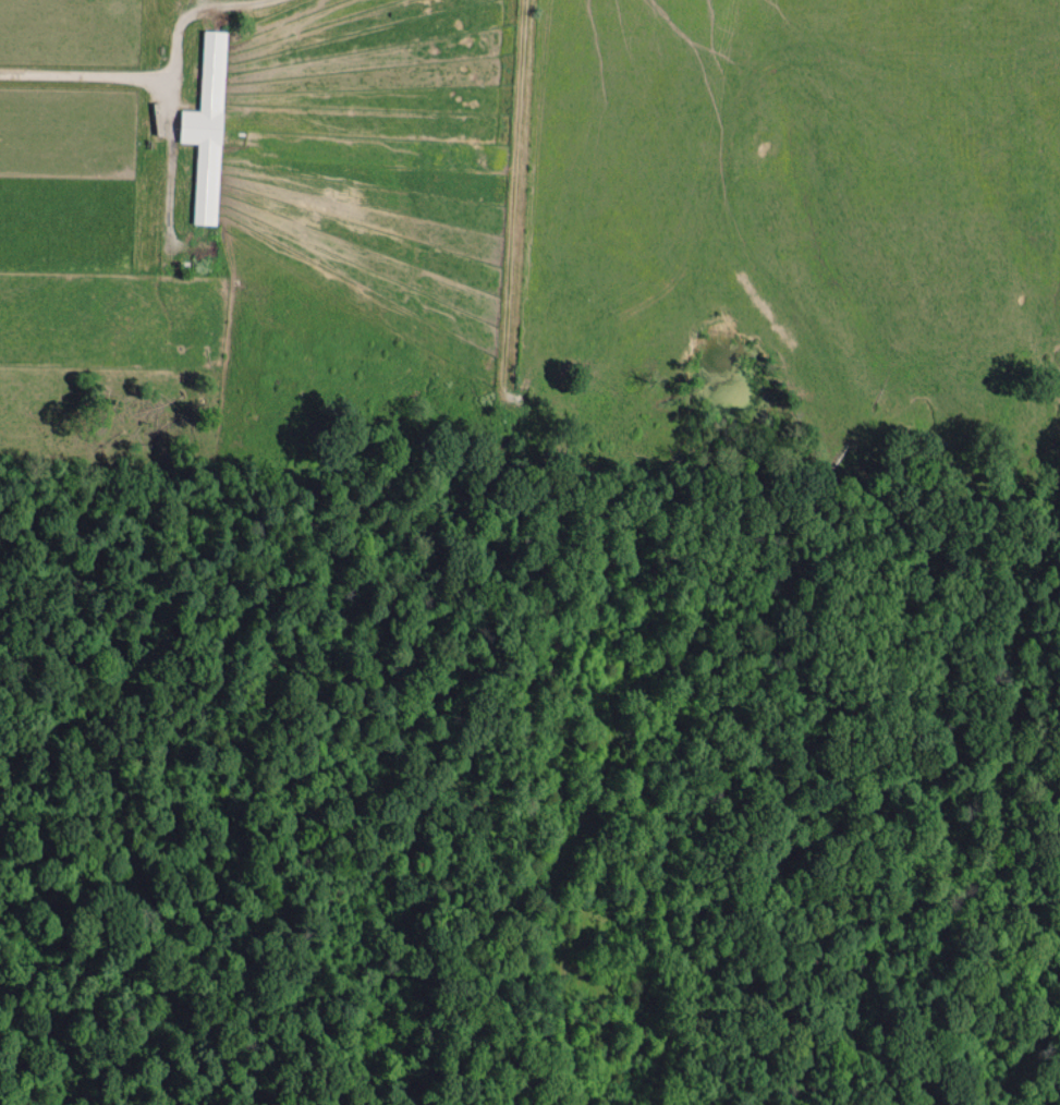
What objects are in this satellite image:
building: (208, 126)

